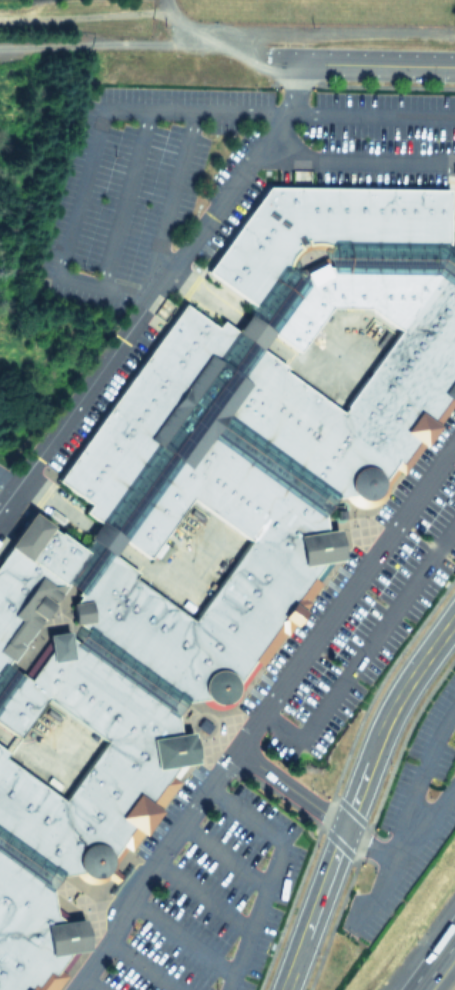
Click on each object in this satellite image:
crop: (210, 12)
road: (211, 36)
road: (111, 44)
road: (362, 64)
road: (146, 112)
road: (355, 159)
road: (173, 193)
road: (122, 200)
parking lot: (194, 210)
building: (318, 229)
building: (453, 237)
road: (332, 259)
road: (157, 289)
road: (272, 346)
building: (407, 385)
building: (141, 408)
road: (264, 457)
building: (156, 462)
road: (159, 464)
road: (7, 484)
road: (57, 504)
road: (356, 523)
road: (106, 539)
building: (278, 566)
building: (31, 580)
road: (172, 585)
road: (64, 625)
road: (40, 627)
road: (363, 650)
road: (129, 672)
building: (128, 673)
road: (5, 676)
building: (6, 678)
road: (260, 715)
road: (208, 729)
parking lot: (282, 751)
road: (33, 763)
building: (90, 766)
road: (424, 769)
road: (291, 788)
road: (356, 797)
parking lot: (409, 817)
road: (426, 820)
road: (369, 846)
road: (223, 855)
building: (27, 861)
road: (27, 861)
road: (269, 873)
road: (377, 892)
road: (201, 895)
road: (85, 904)
building: (33, 933)
road: (180, 938)
road: (433, 961)
road: (141, 966)
road: (90, 983)

